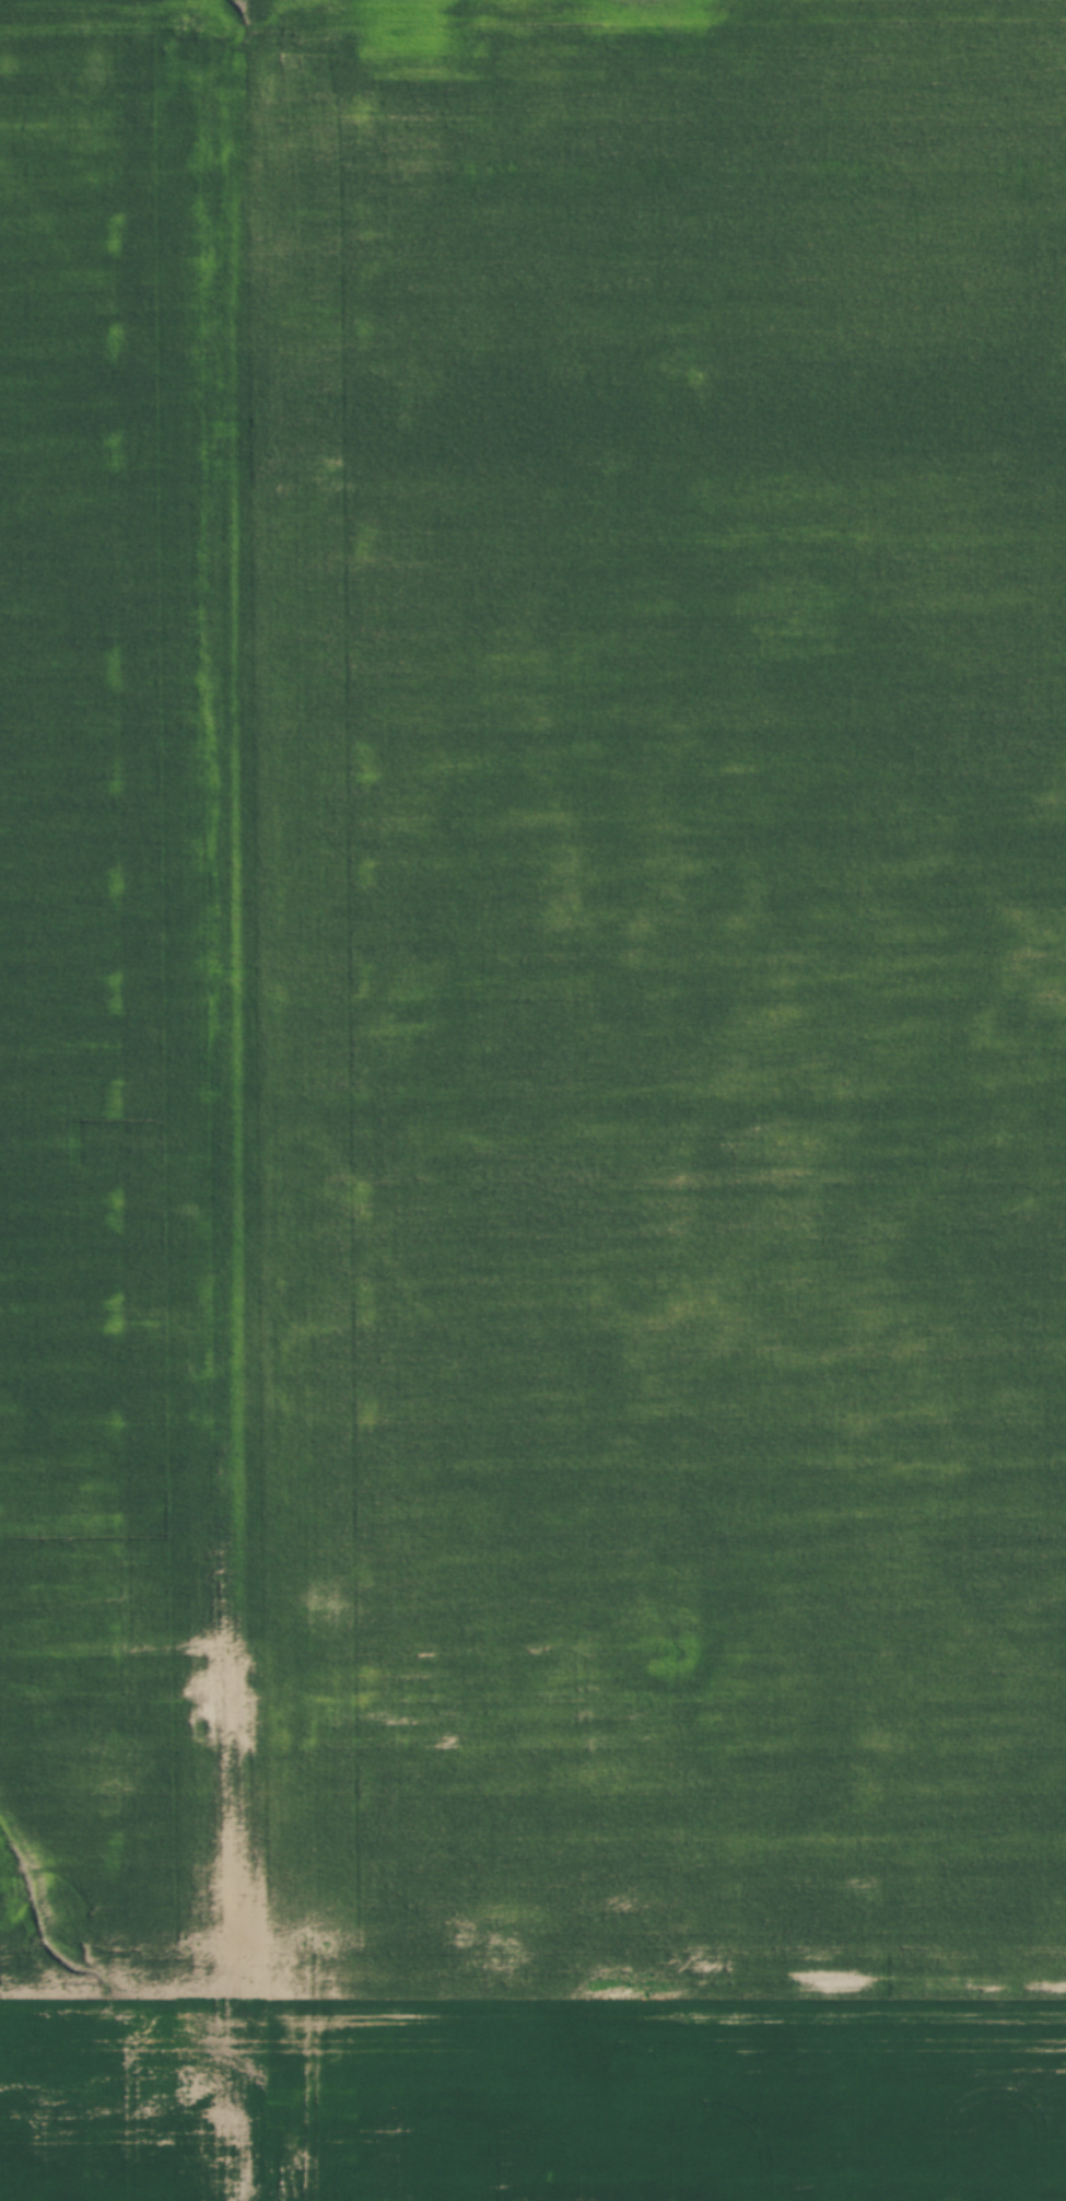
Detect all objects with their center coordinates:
road: (532, 1994)

